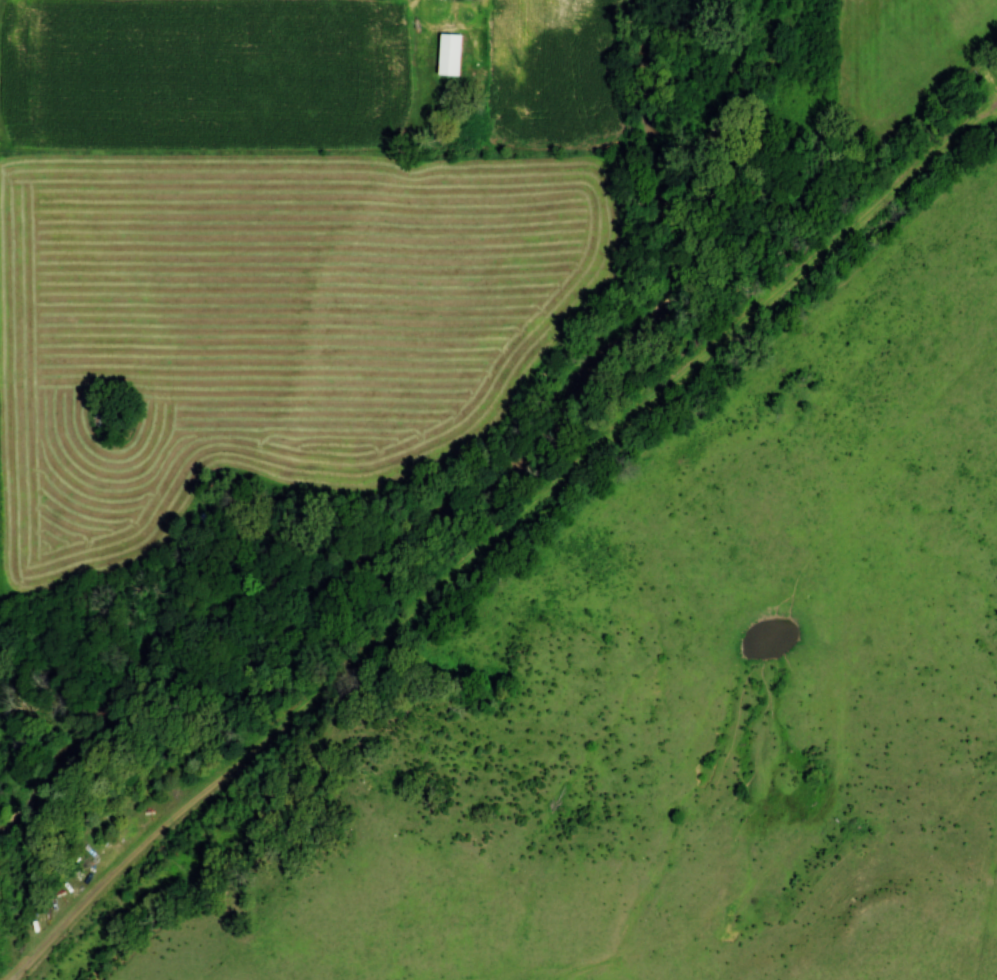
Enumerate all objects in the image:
building: (525, 3)
building: (451, 55)

